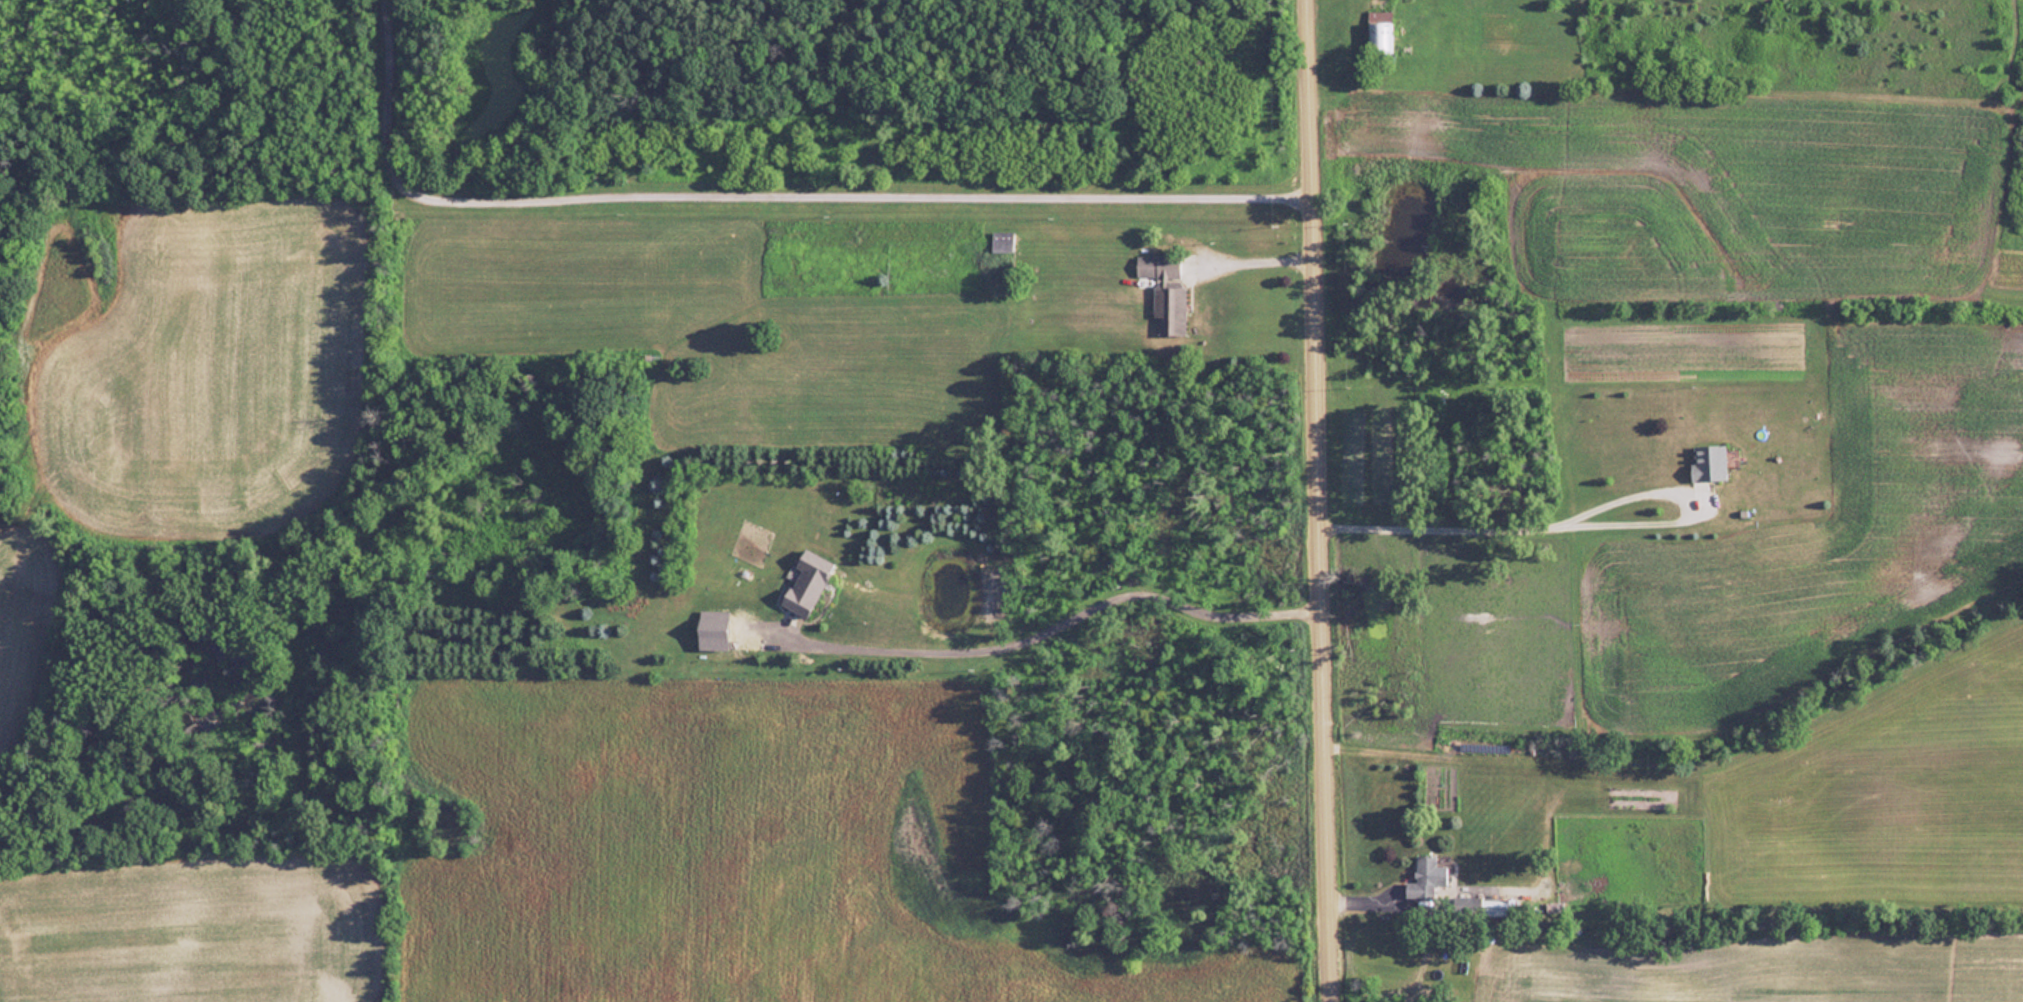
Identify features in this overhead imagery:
building: (1379, 38)
road: (763, 186)
building: (1002, 241)
building: (1166, 289)
building: (1708, 461)
road: (1322, 500)
building: (807, 582)
building: (1425, 870)

